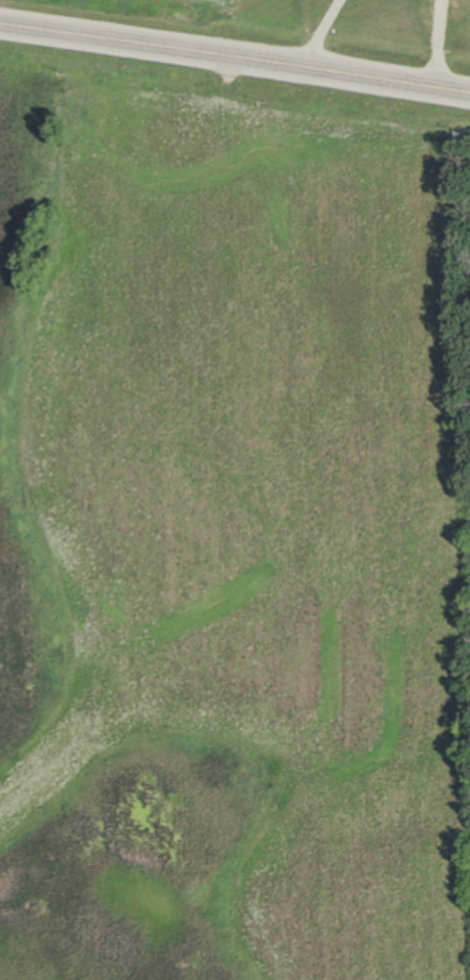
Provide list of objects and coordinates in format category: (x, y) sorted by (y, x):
road: (320, 32)
road: (437, 42)
road: (235, 57)

